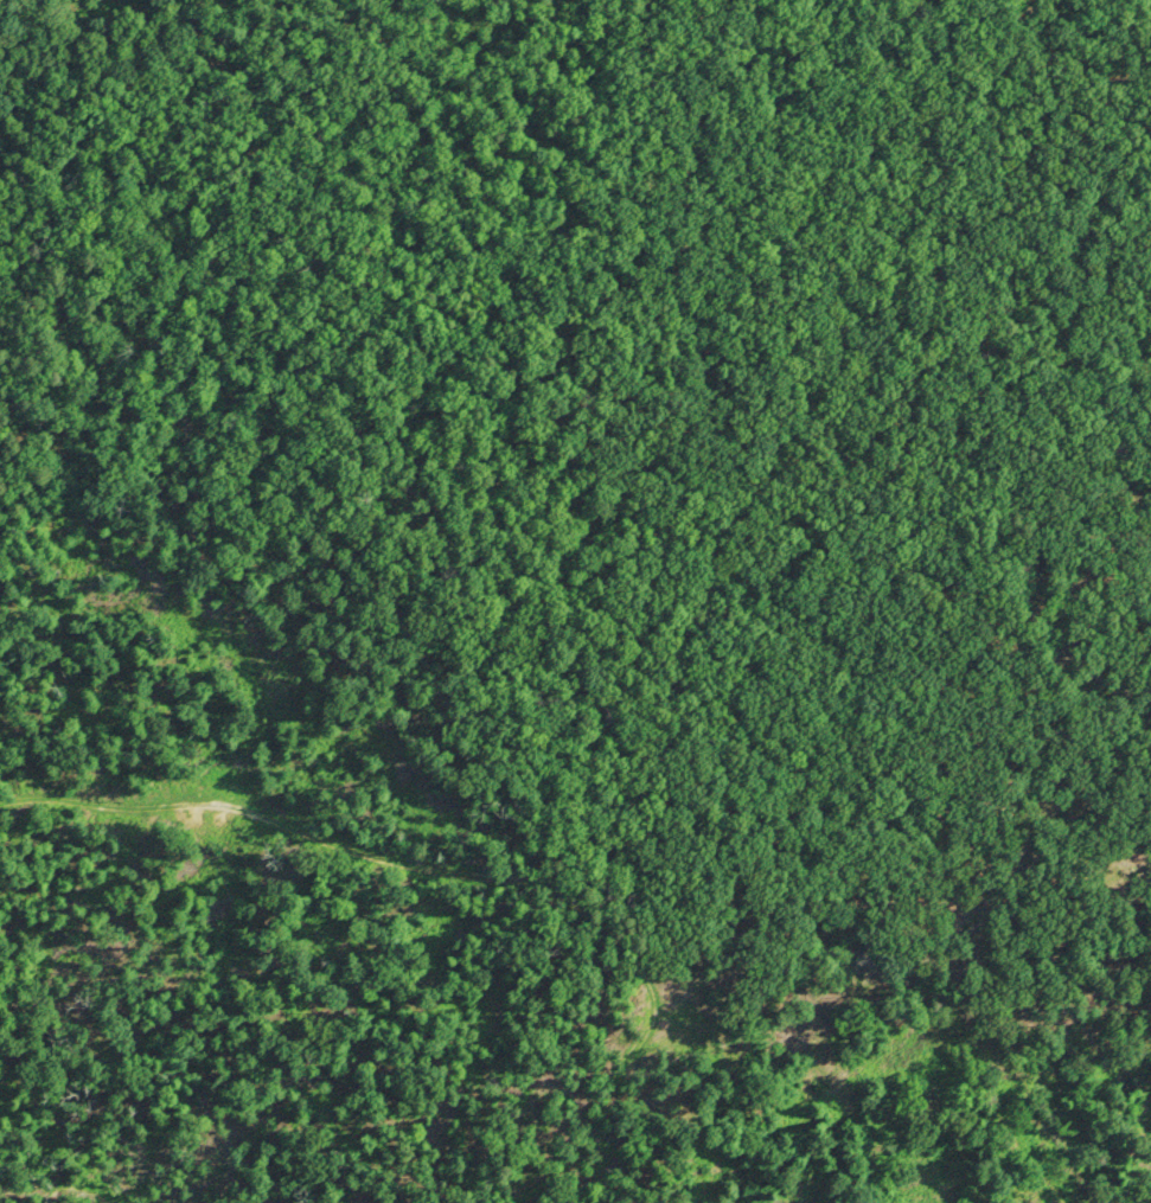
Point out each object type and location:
road: (376, 846)

